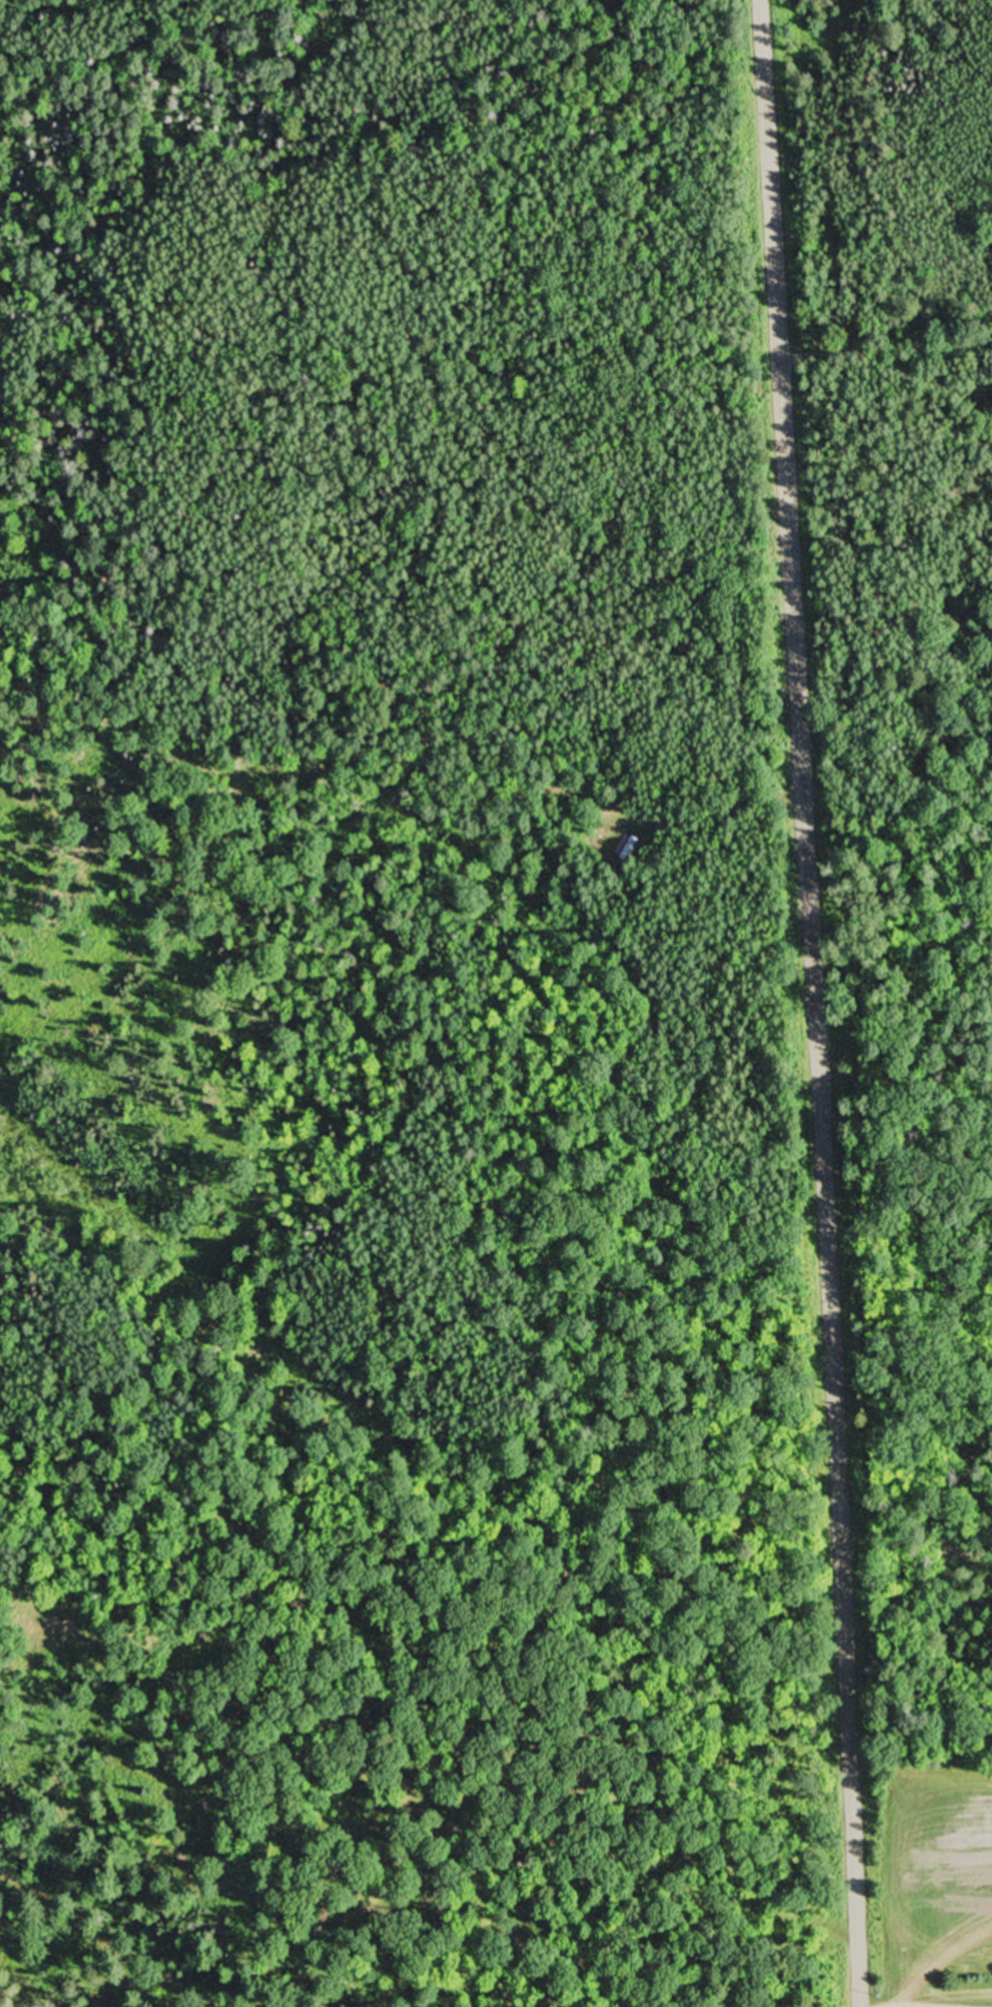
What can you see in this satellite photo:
road: (889, 364)
road: (816, 1003)
road: (929, 2004)

